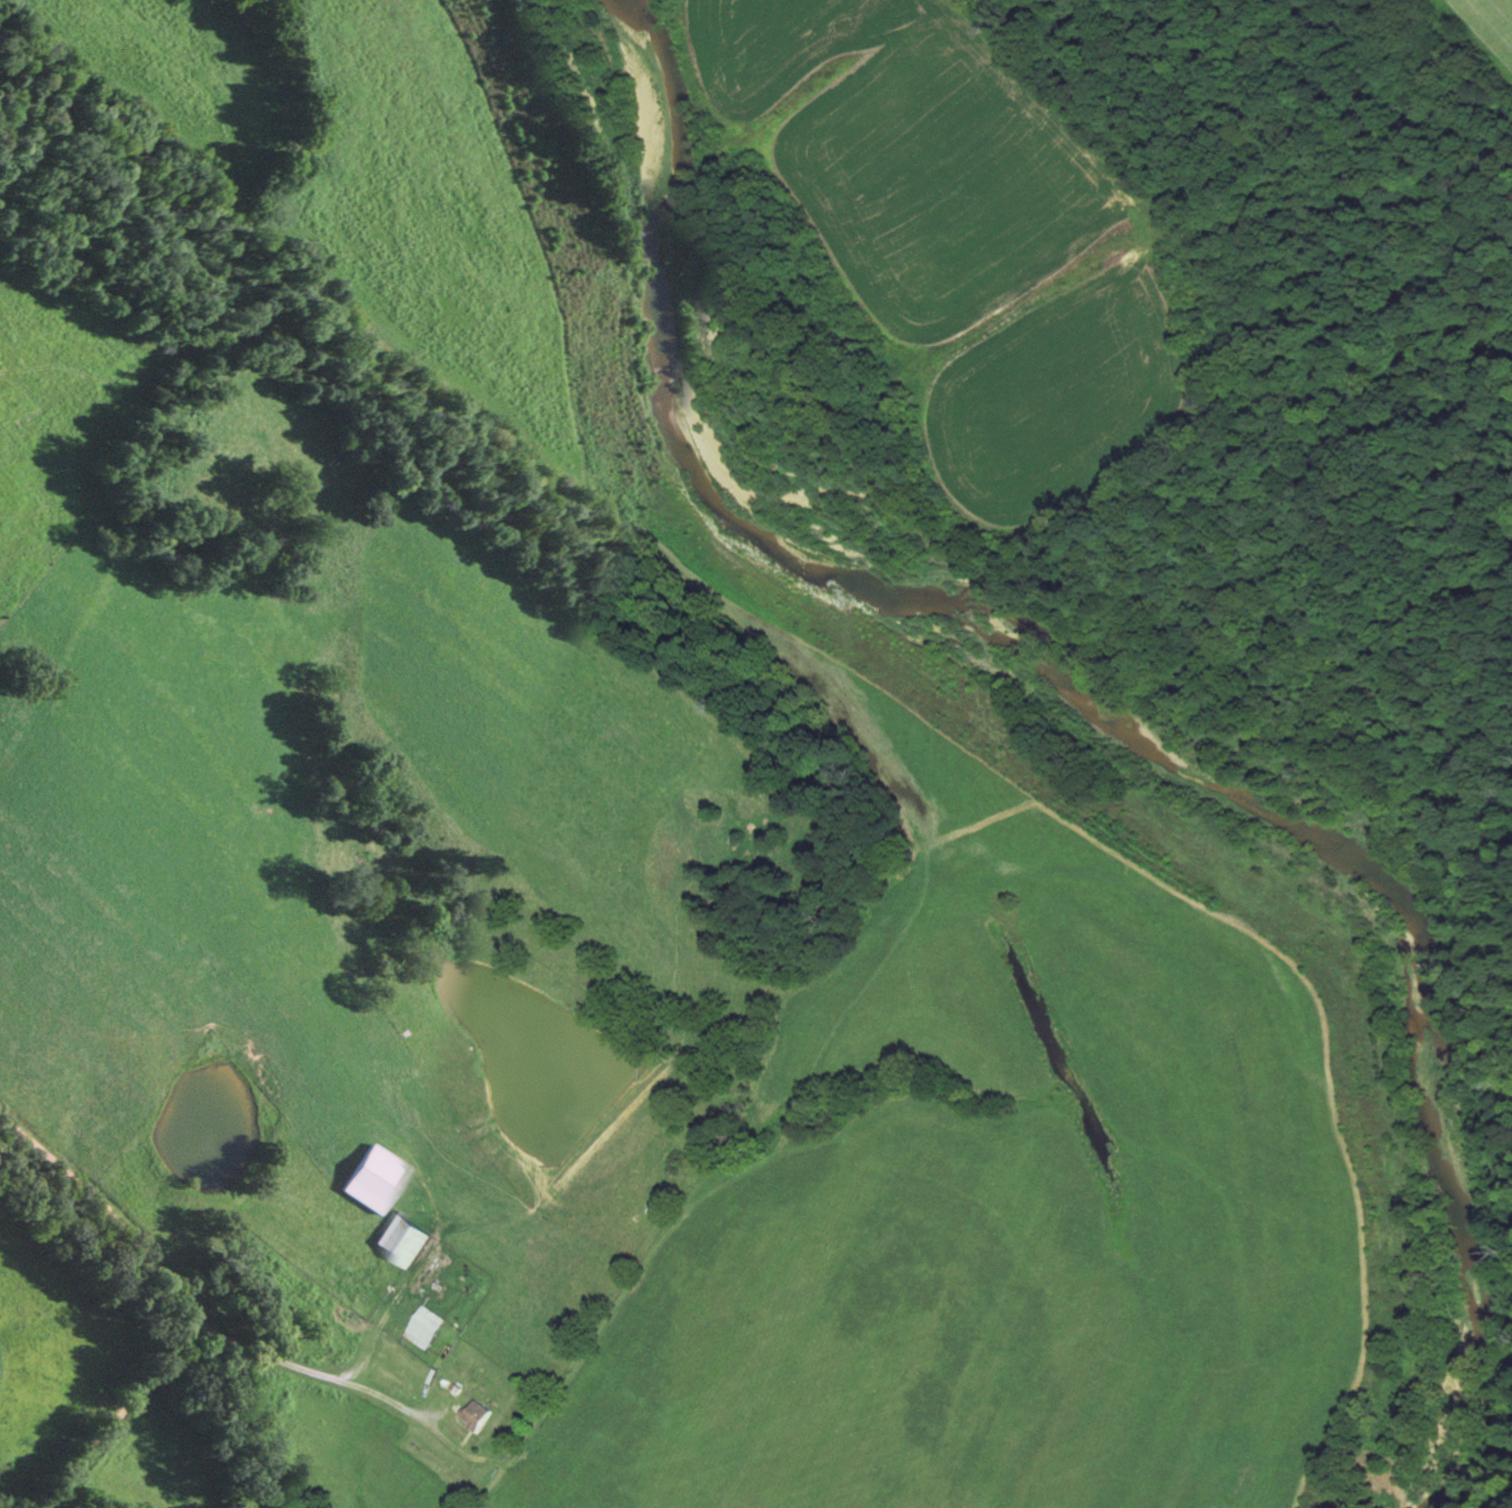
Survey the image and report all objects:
building: (374, 1179)
building: (402, 1239)
road: (171, 1294)
building: (423, 1327)
road: (309, 1361)
building: (474, 1415)

